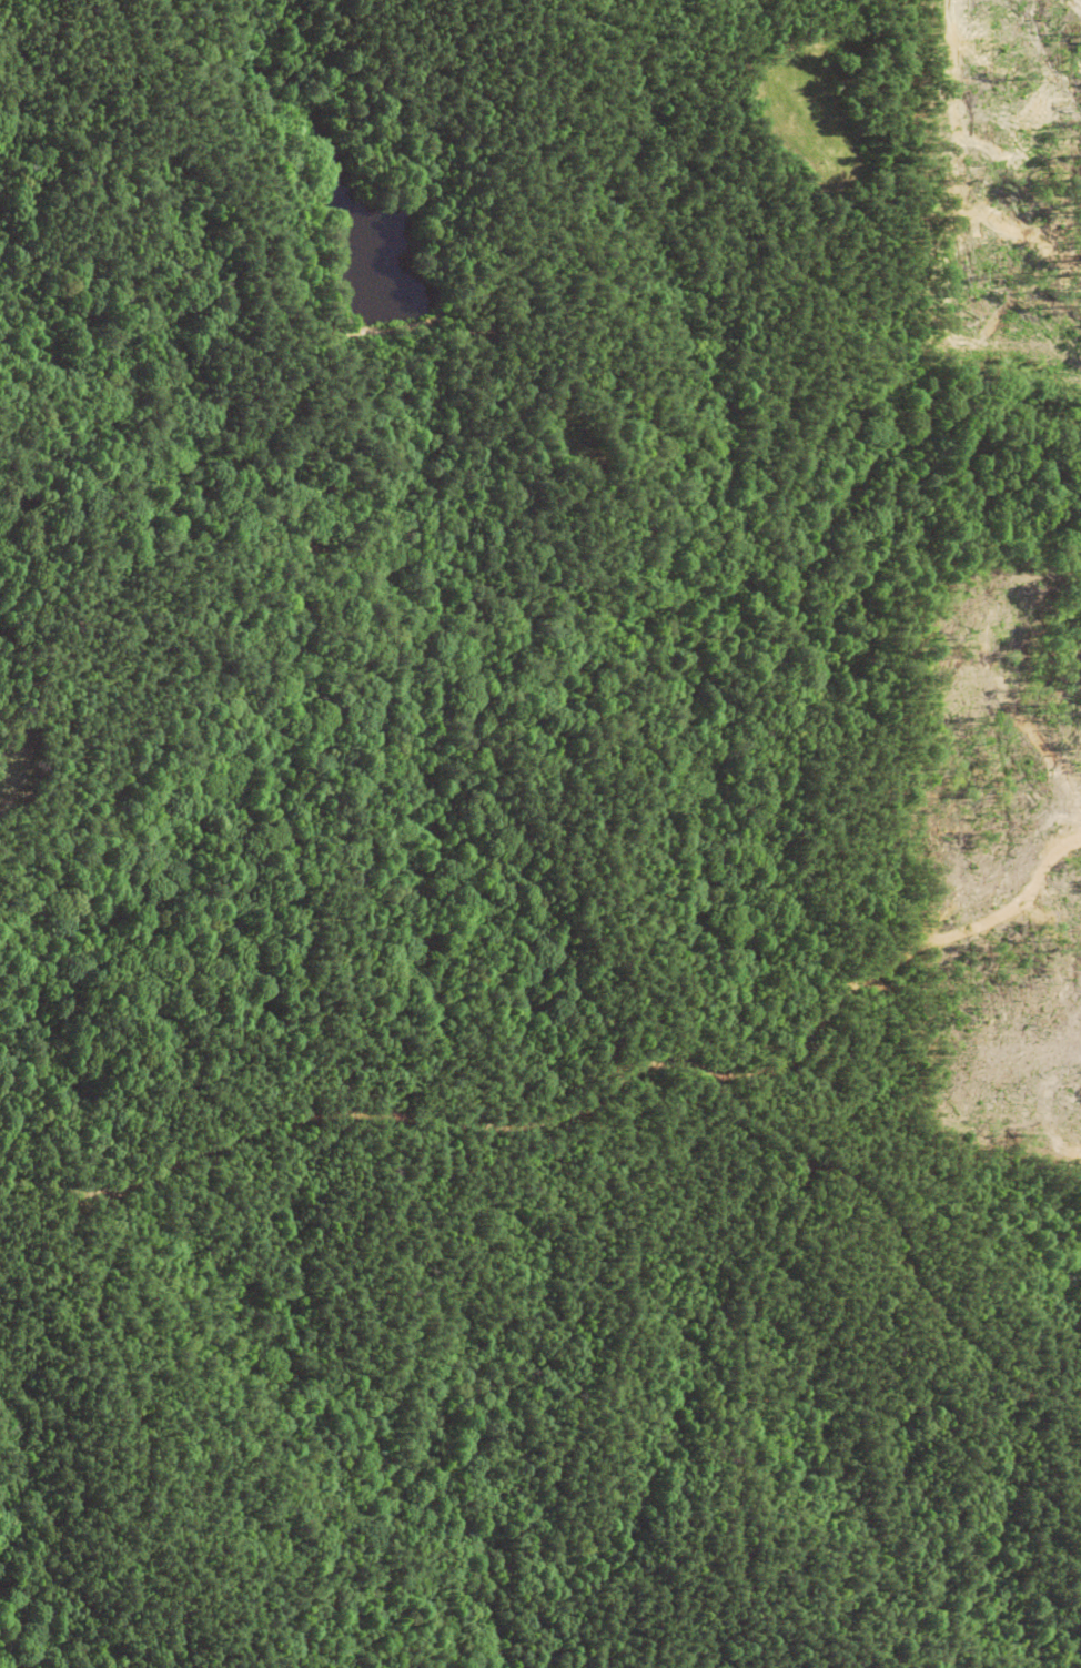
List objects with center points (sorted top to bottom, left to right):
road: (446, 1114)

